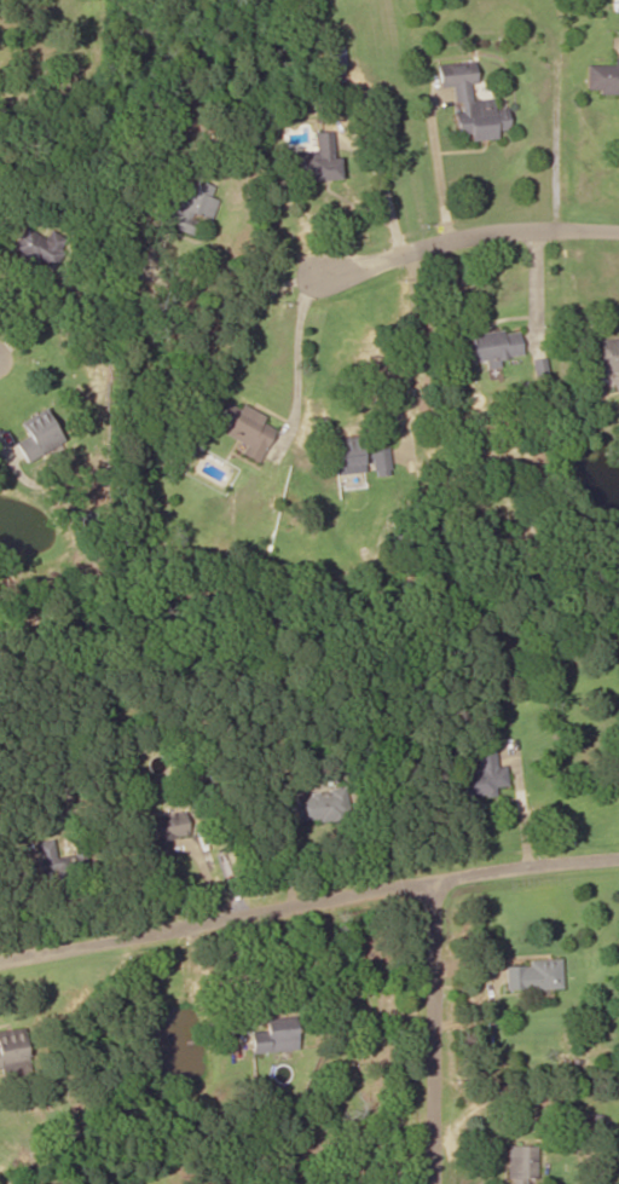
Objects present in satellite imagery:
building: (602, 77)
building: (470, 103)
building: (318, 160)
building: (187, 206)
road: (464, 233)
building: (39, 246)
building: (492, 345)
building: (606, 354)
building: (244, 427)
building: (36, 433)
building: (358, 457)
building: (481, 774)
building: (320, 805)
building: (166, 831)
building: (54, 861)
road: (307, 899)
building: (533, 975)
road: (422, 1030)
building: (274, 1035)
building: (12, 1047)
building: (521, 1163)

